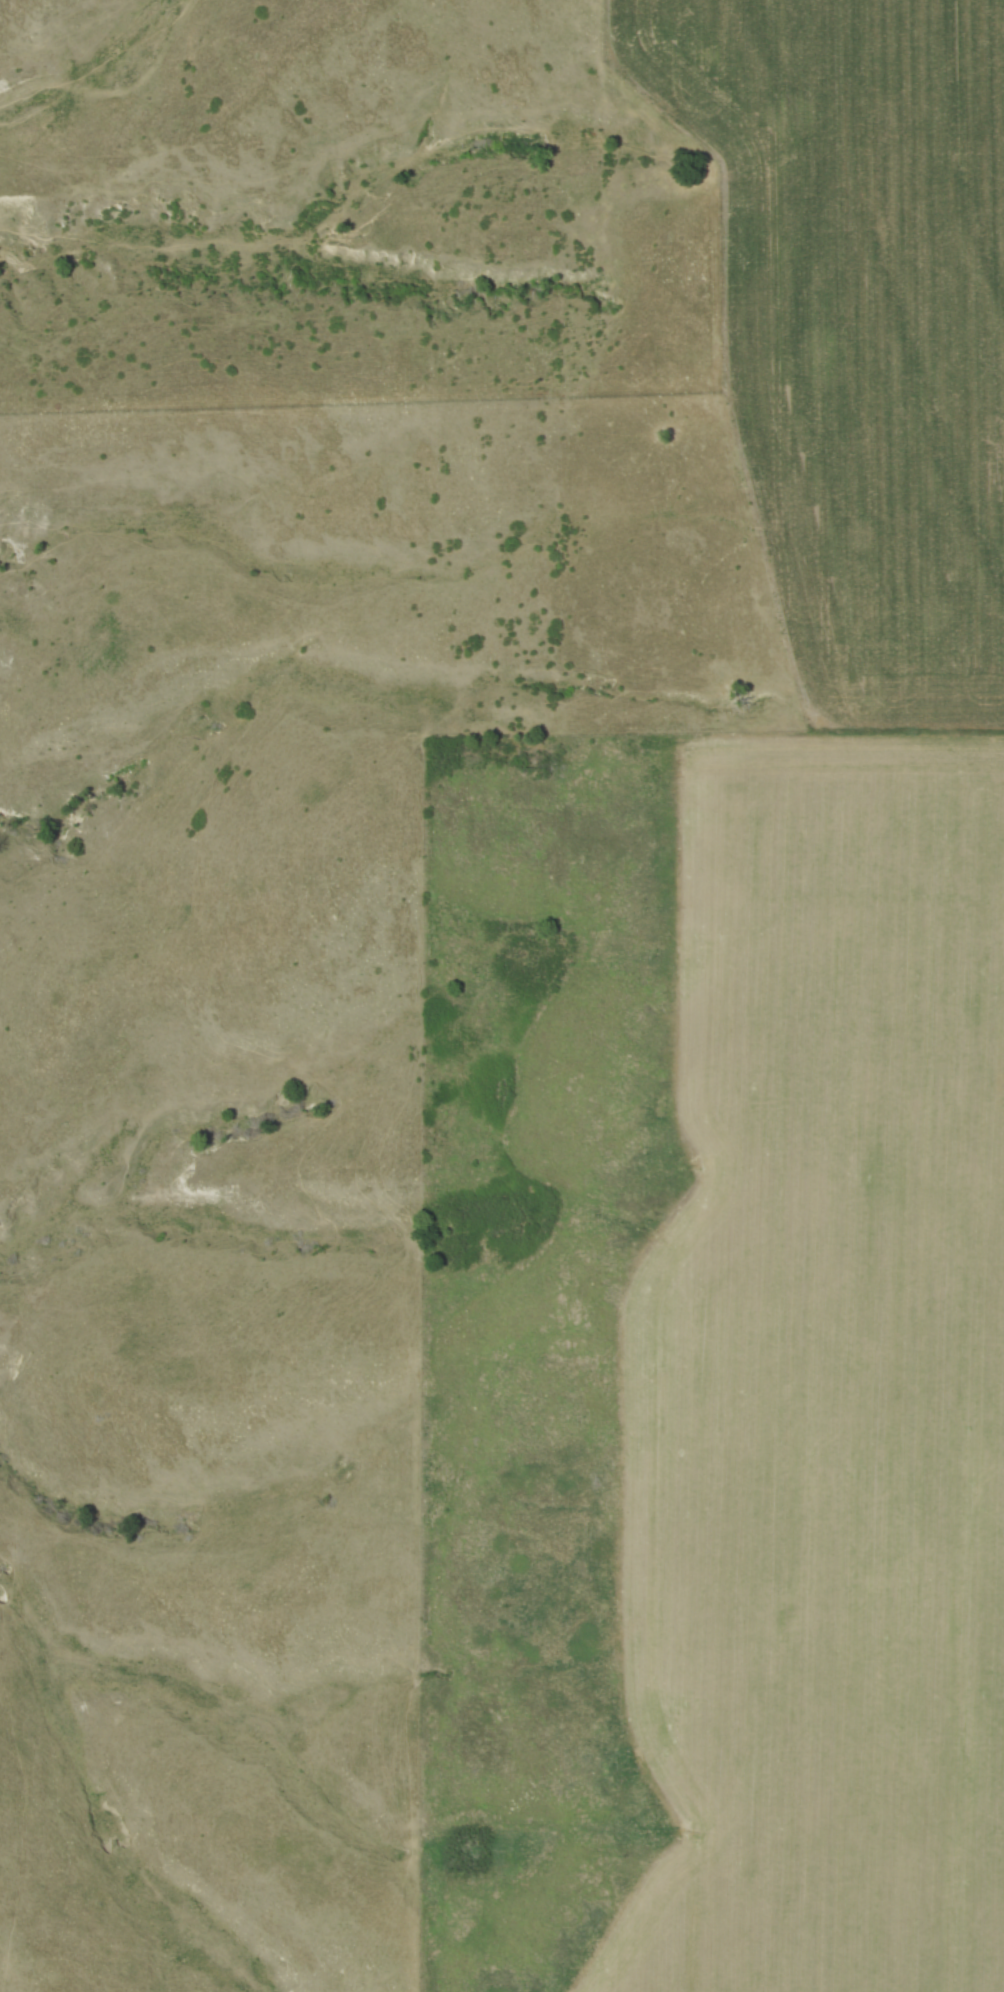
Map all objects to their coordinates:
crop: (824, 1385)

